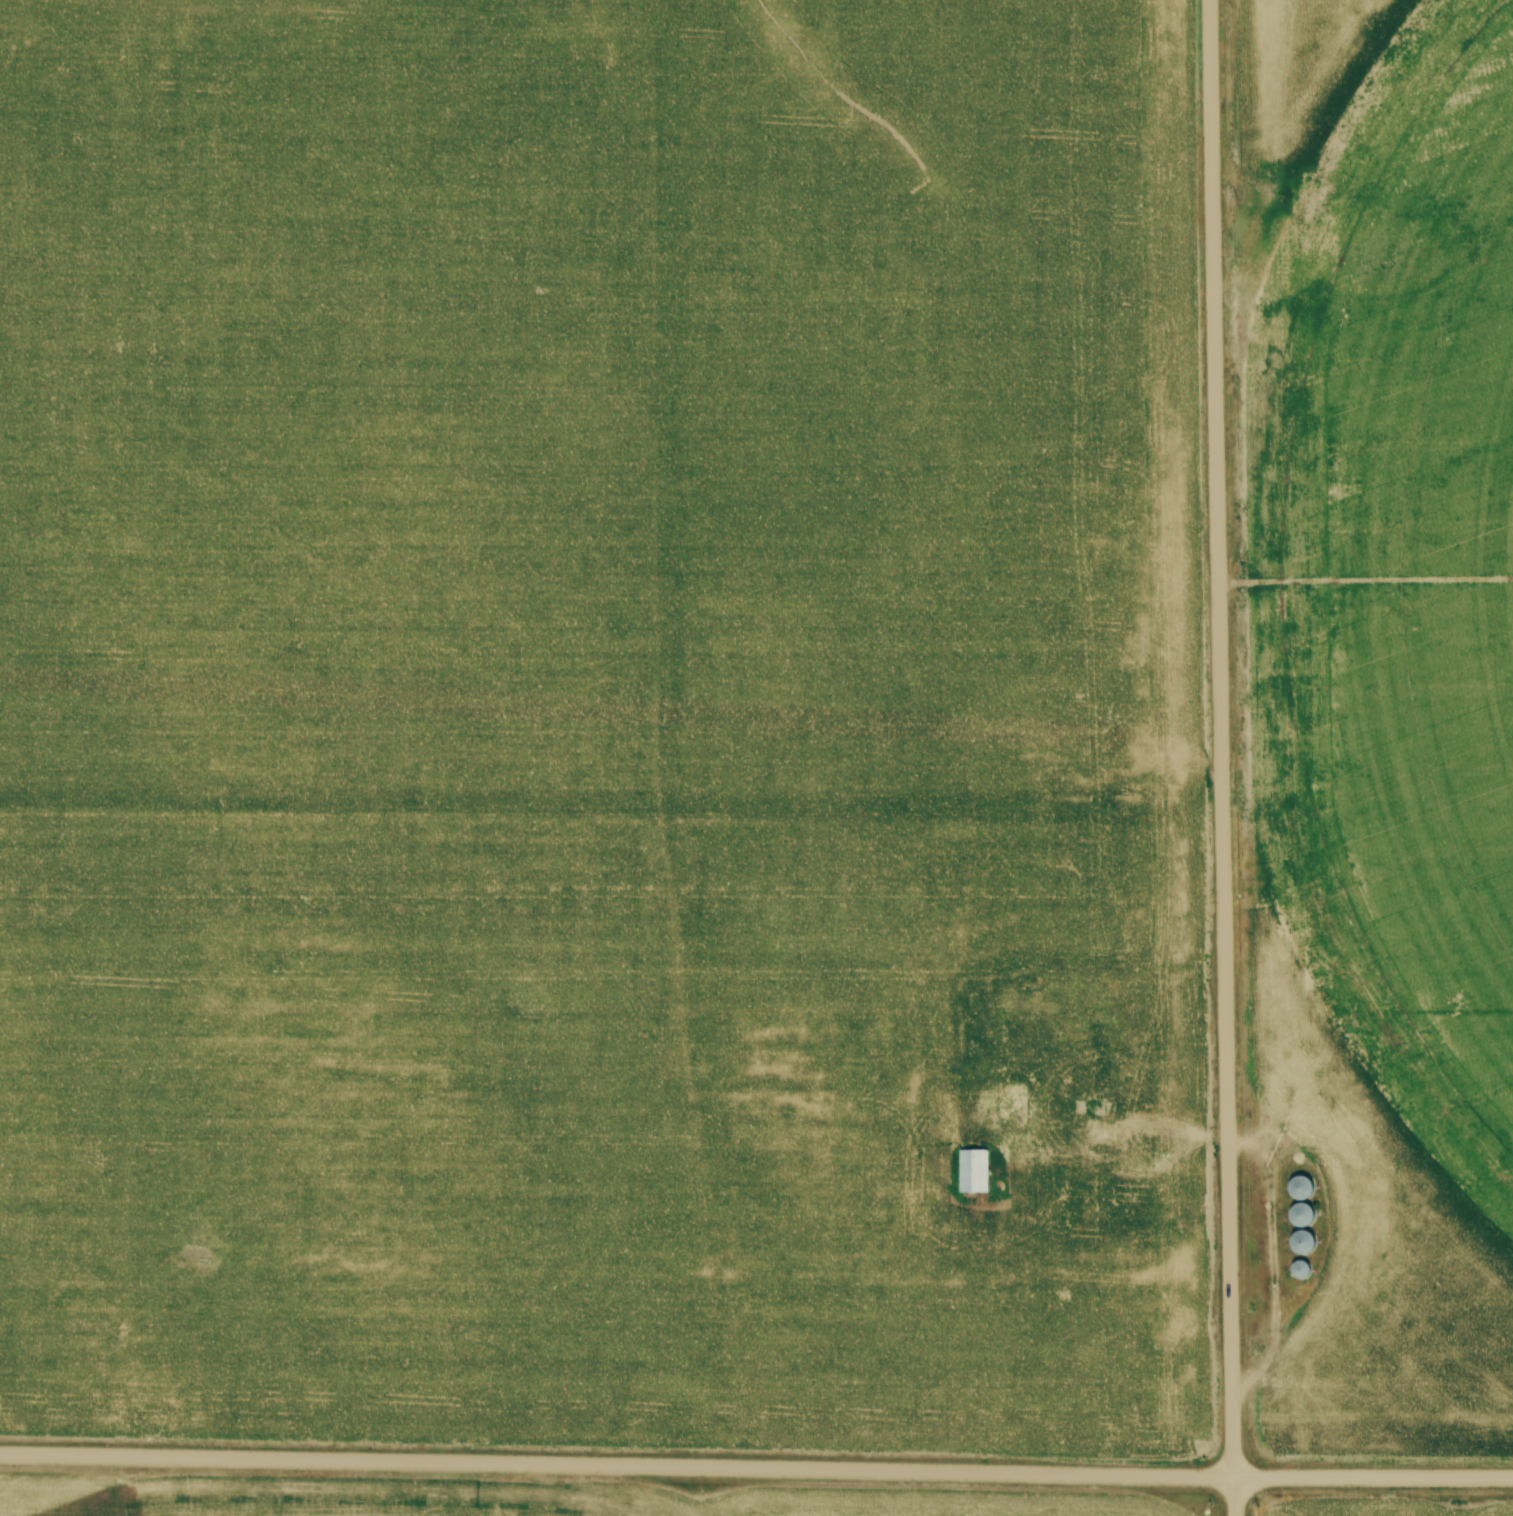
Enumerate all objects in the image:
crop: (571, 689)
crop: (1378, 699)
road: (1220, 740)
road: (1105, 1130)
building: (973, 1172)
building: (1302, 1185)
silo: (1302, 1185)
building: (1302, 1214)
silo: (1302, 1214)
building: (1302, 1242)
silo: (1302, 1242)
building: (1299, 1269)
silo: (1299, 1269)
road: (756, 1471)
road: (1233, 1498)
crop: (494, 1501)
crop: (1395, 1509)

